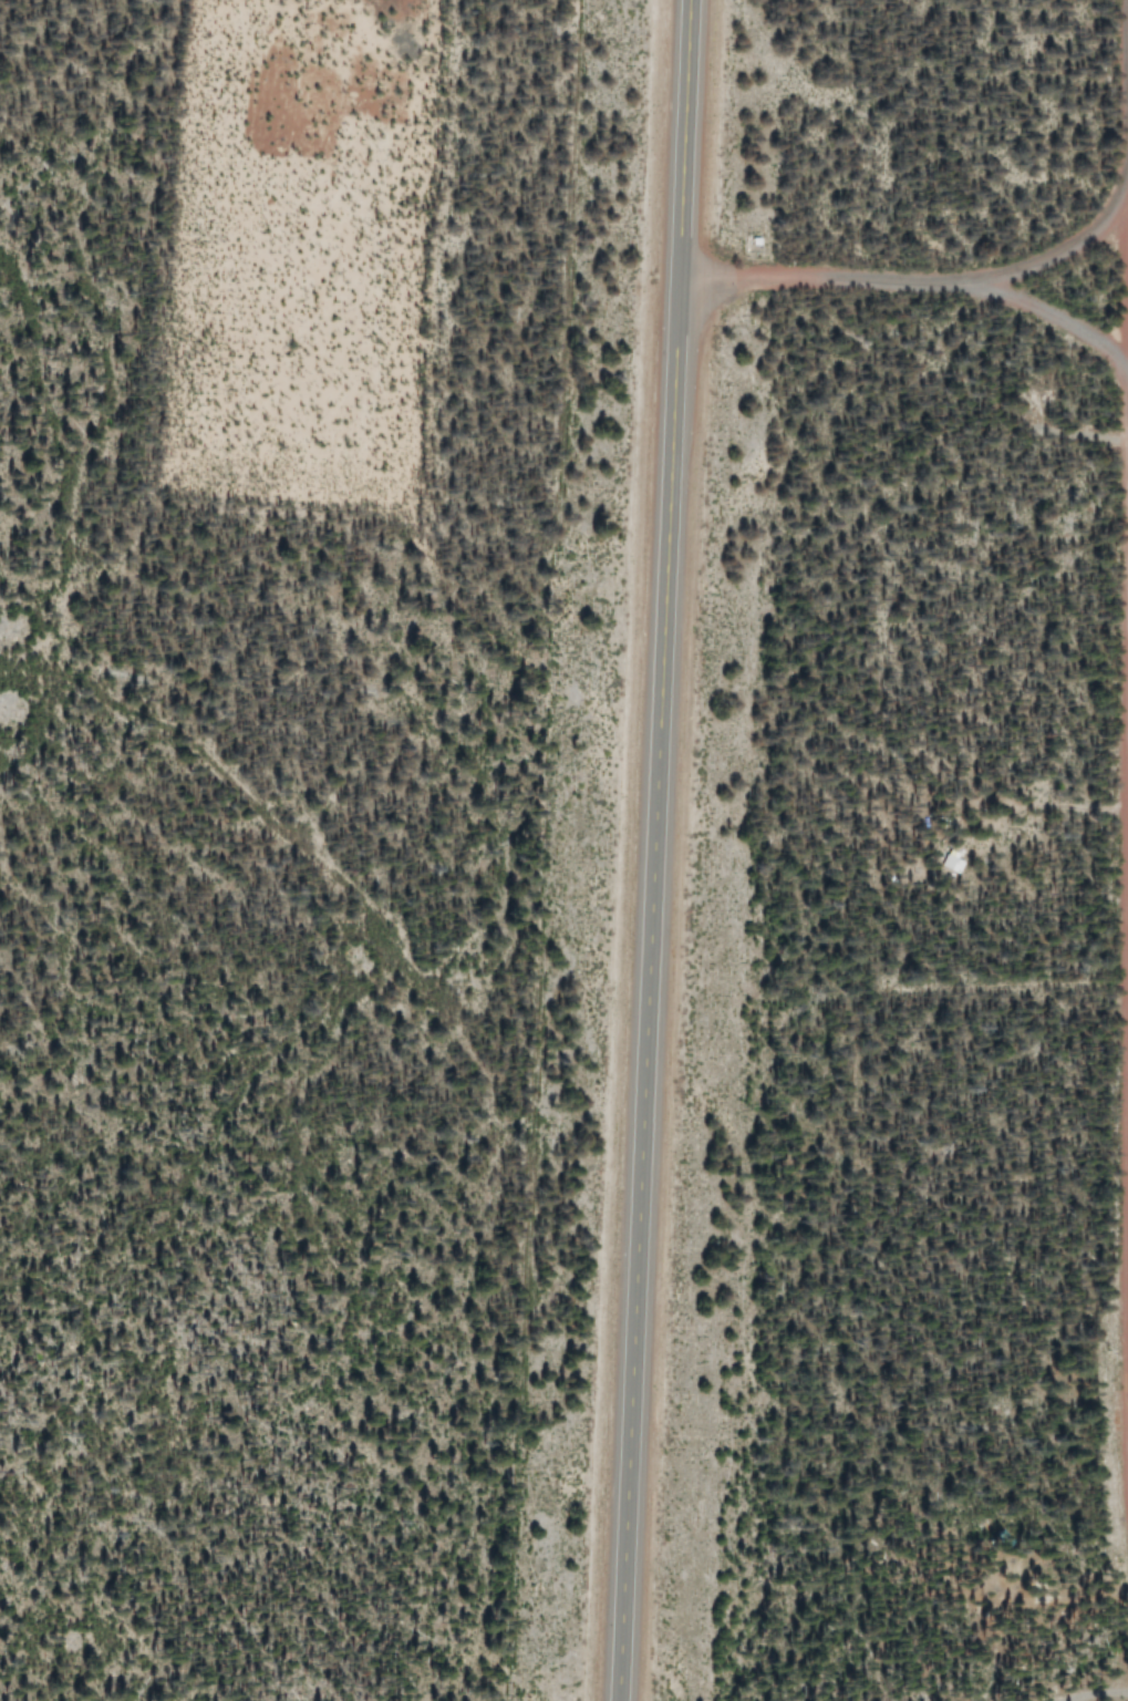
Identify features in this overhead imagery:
road: (914, 282)
road: (1053, 316)
road: (1125, 370)
road: (650, 850)
road: (1124, 1318)

